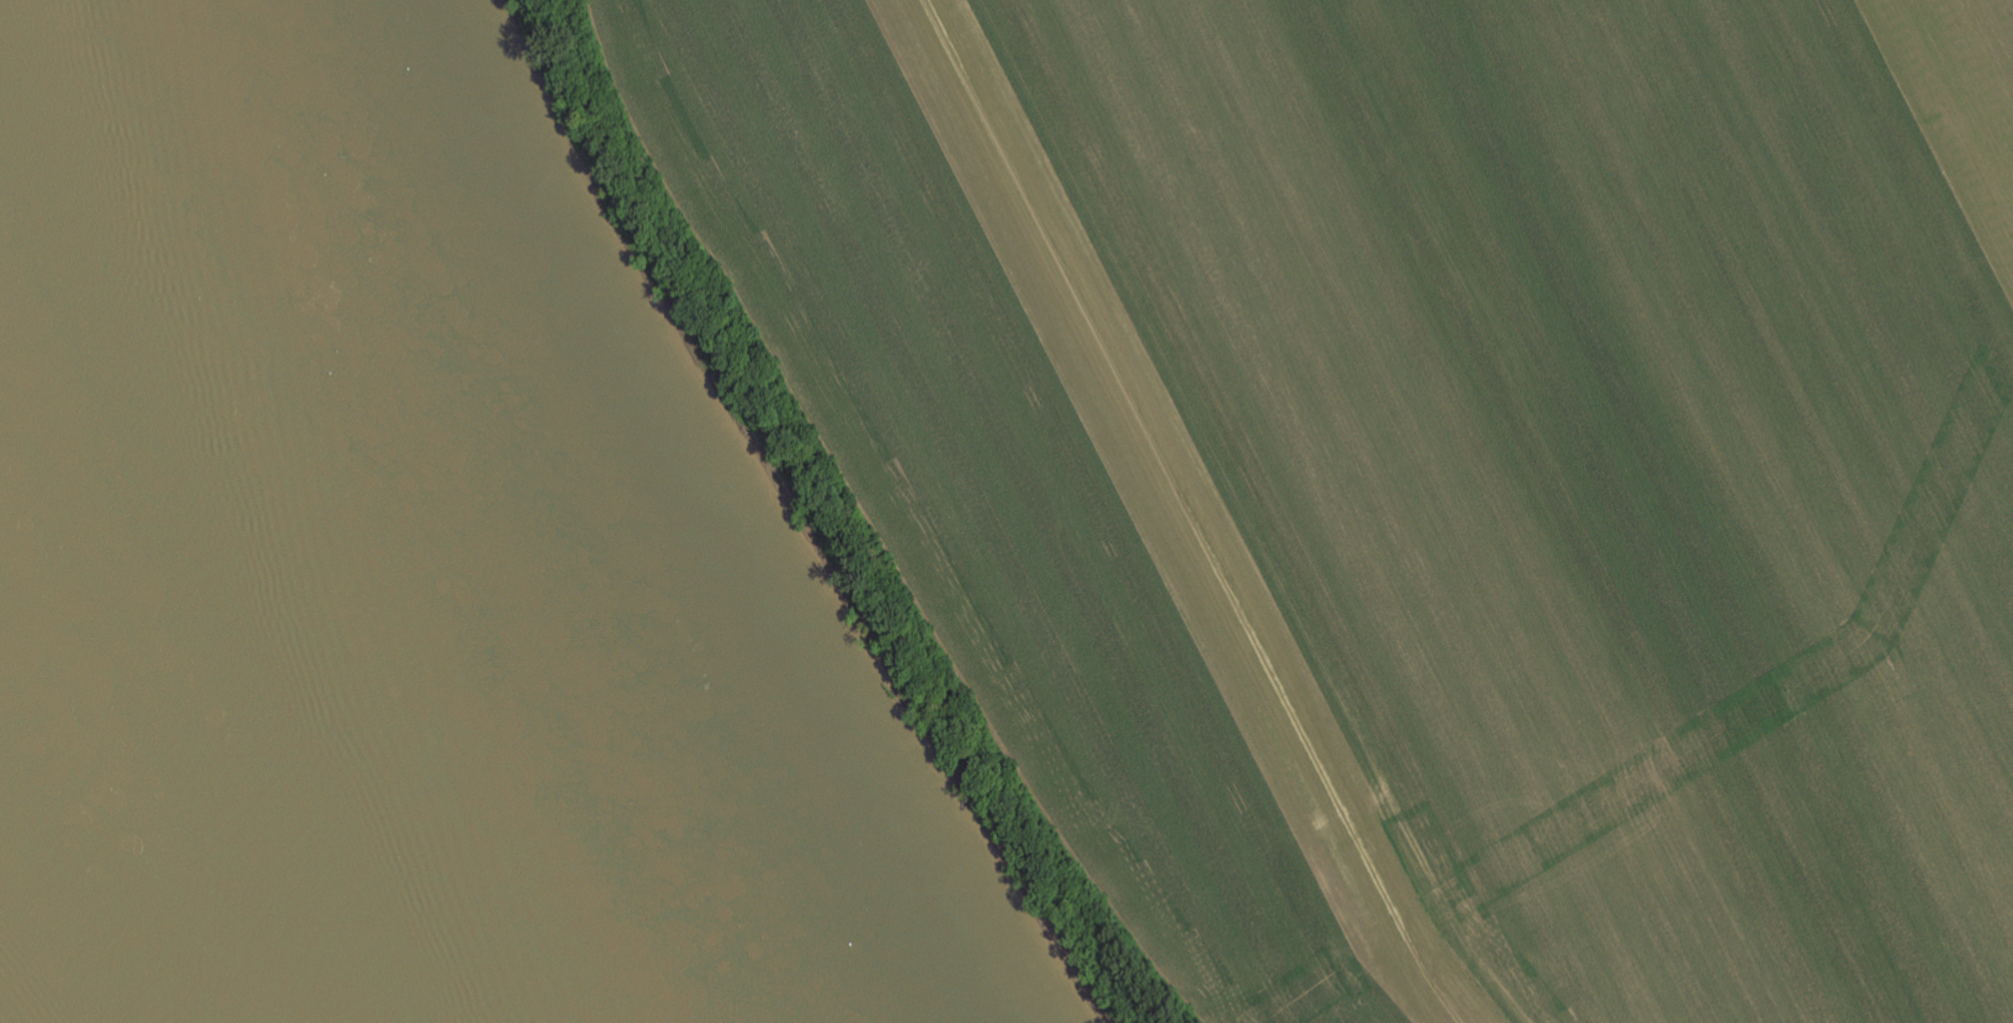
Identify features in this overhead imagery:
river: (102, 851)

